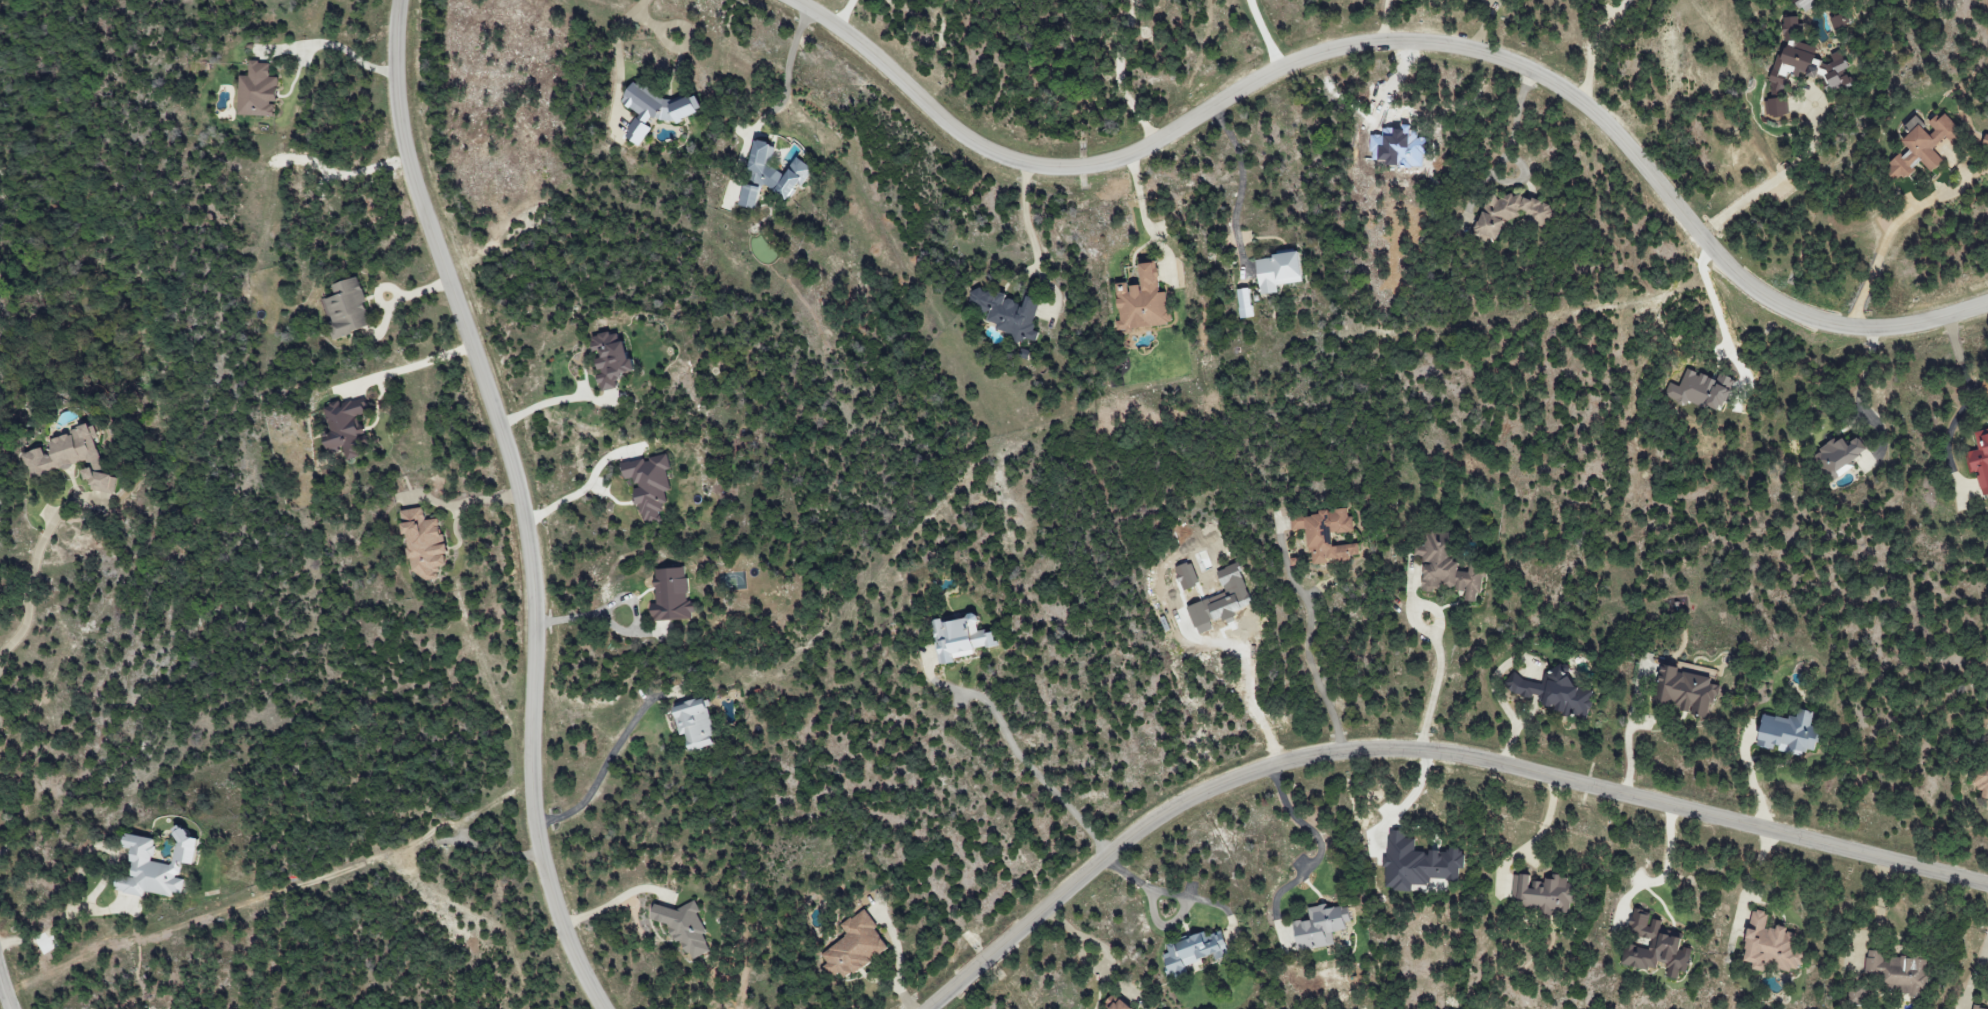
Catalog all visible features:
road: (845, 12)
road: (1386, 22)
building: (1837, 22)
road: (1485, 26)
road: (616, 33)
road: (1403, 43)
road: (337, 44)
road: (1594, 47)
building: (1805, 60)
road: (791, 73)
building: (257, 91)
building: (1776, 106)
building: (654, 110)
road: (1512, 128)
building: (1985, 141)
building: (1921, 145)
building: (774, 170)
road: (1239, 183)
road: (1764, 184)
building: (748, 195)
building: (1510, 213)
road: (1142, 216)
road: (1024, 220)
road: (1884, 249)
building: (1276, 271)
building: (1142, 300)
road: (1717, 300)
building: (346, 308)
building: (1008, 314)
building: (609, 358)
road: (408, 362)
building: (1701, 391)
road: (1862, 394)
road: (550, 400)
road: (1967, 403)
building: (346, 428)
building: (1838, 457)
building: (71, 458)
building: (1979, 461)
building: (648, 485)
road: (588, 486)
road: (469, 497)
road: (520, 502)
building: (1325, 535)
building: (423, 543)
building: (1446, 567)
road: (31, 576)
building: (1186, 576)
building: (670, 595)
building: (1220, 600)
road: (616, 602)
building: (959, 639)
road: (1439, 664)
road: (1309, 665)
road: (1248, 681)
building: (1684, 692)
building: (1554, 694)
building: (693, 723)
road: (1630, 730)
building: (1787, 733)
road: (1426, 745)
road: (1023, 762)
road: (604, 767)
building: (1981, 783)
road: (1414, 792)
road: (1322, 844)
road: (106, 846)
building: (1419, 862)
building: (154, 867)
road: (1757, 872)
building: (1542, 894)
road: (1879, 902)
building: (683, 927)
building: (1319, 927)
road: (38, 938)
road: (1087, 940)
building: (1769, 945)
building: (1654, 946)
building: (855, 947)
building: (1192, 952)
road: (899, 957)
road: (1976, 969)
building: (1897, 972)
road: (1, 987)
road: (3, 994)
building: (1113, 1004)
building: (1975, 1007)

